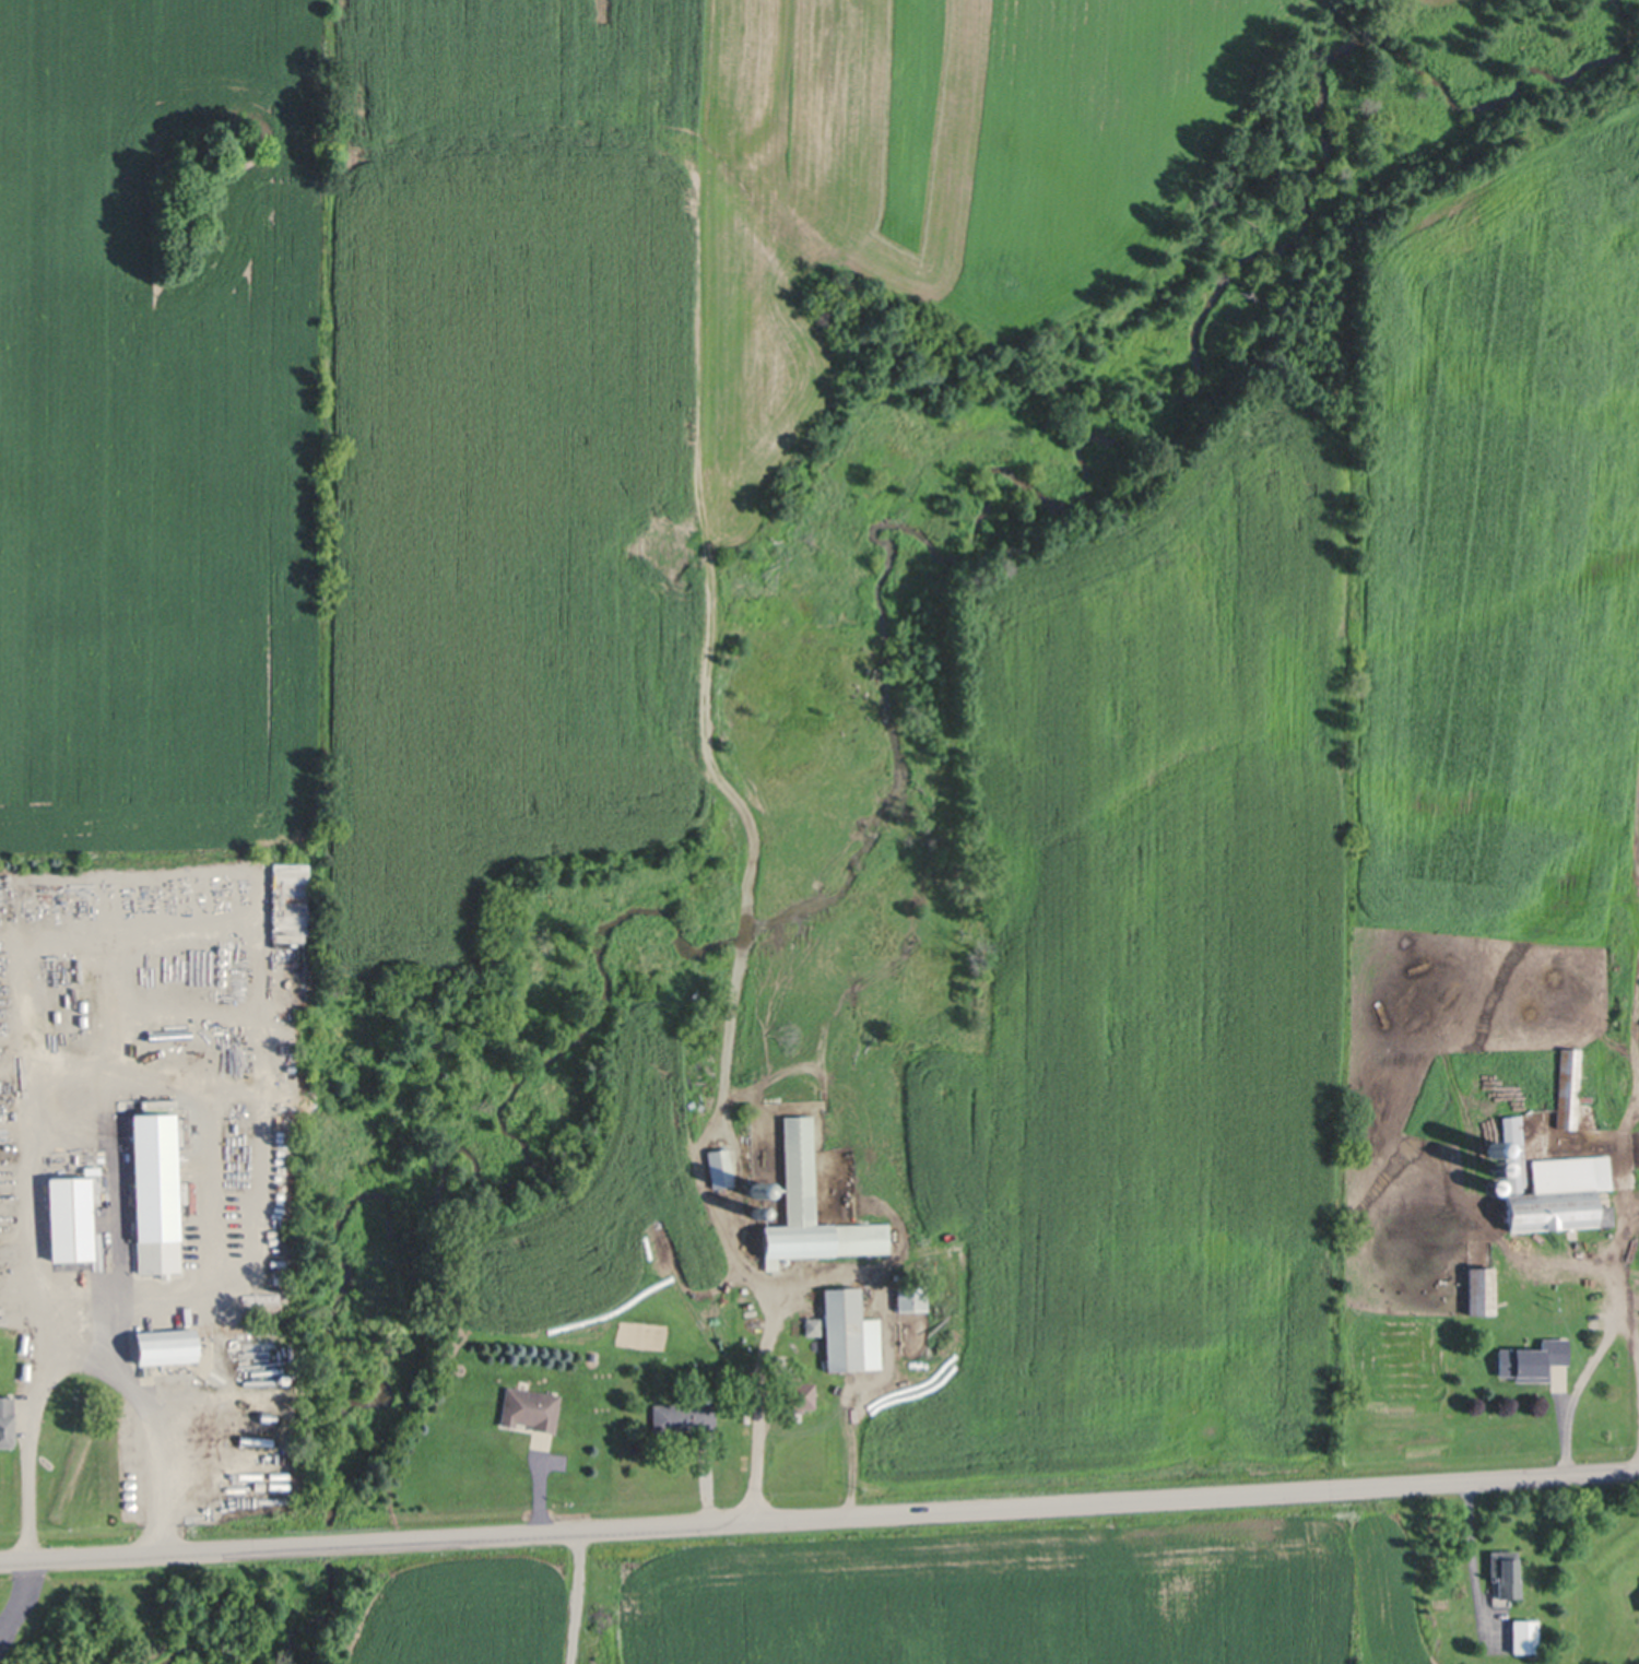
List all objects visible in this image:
building: (288, 961)
building: (952, 1055)
building: (934, 1084)
building: (1571, 1087)
building: (1496, 1147)
building: (730, 1177)
building: (1554, 1188)
building: (151, 1192)
building: (814, 1206)
building: (66, 1218)
building: (758, 1231)
road: (115, 1248)
building: (1483, 1289)
building: (909, 1297)
building: (1600, 1300)
building: (845, 1331)
road: (1631, 1332)
building: (166, 1349)
building: (1526, 1359)
road: (1595, 1359)
road: (47, 1370)
road: (765, 1372)
building: (794, 1395)
building: (531, 1411)
building: (686, 1416)
building: (7, 1419)
road: (707, 1489)
road: (540, 1495)
road: (819, 1514)
road: (1470, 1550)
building: (1506, 1571)
crop: (924, 1592)
road: (580, 1595)
building: (1526, 1635)

